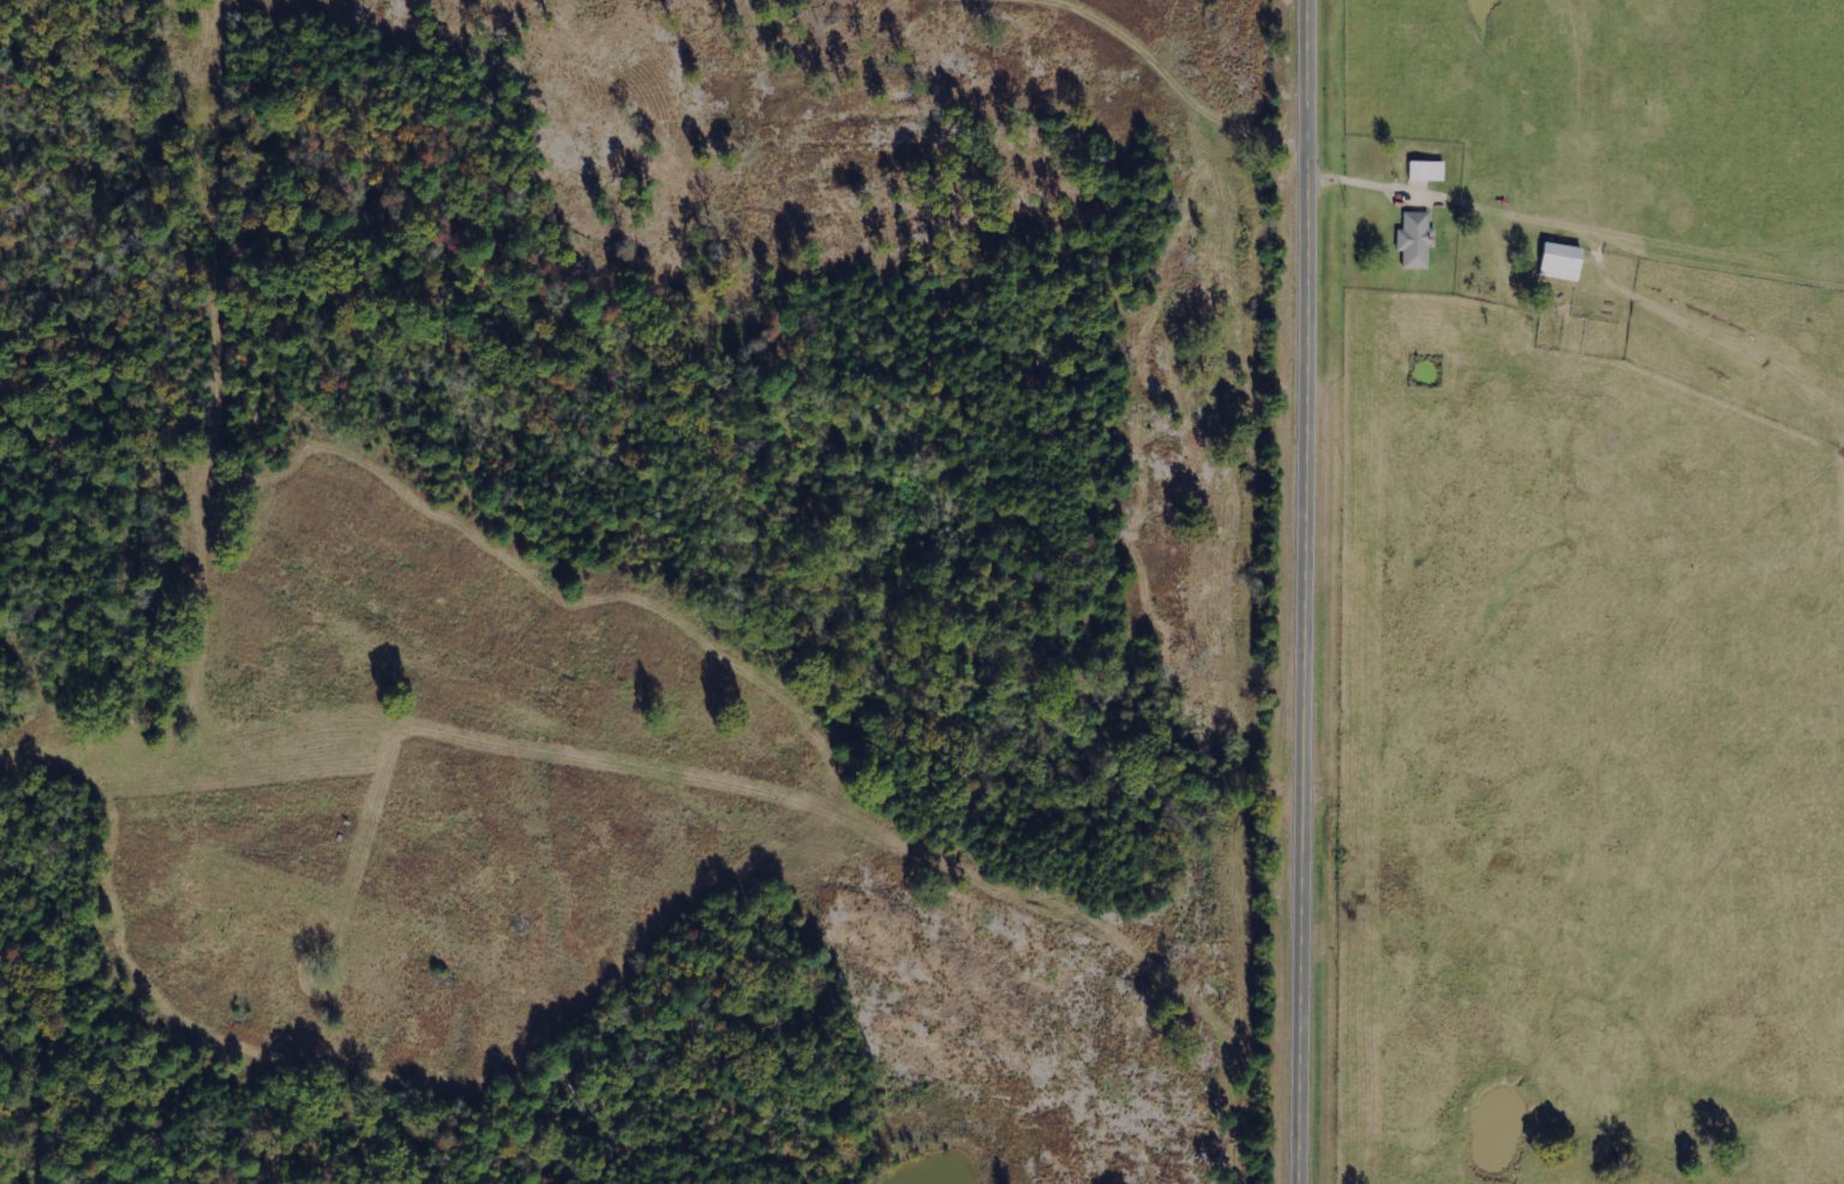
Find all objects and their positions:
building: (1418, 238)
building: (1565, 259)
road: (1298, 592)

